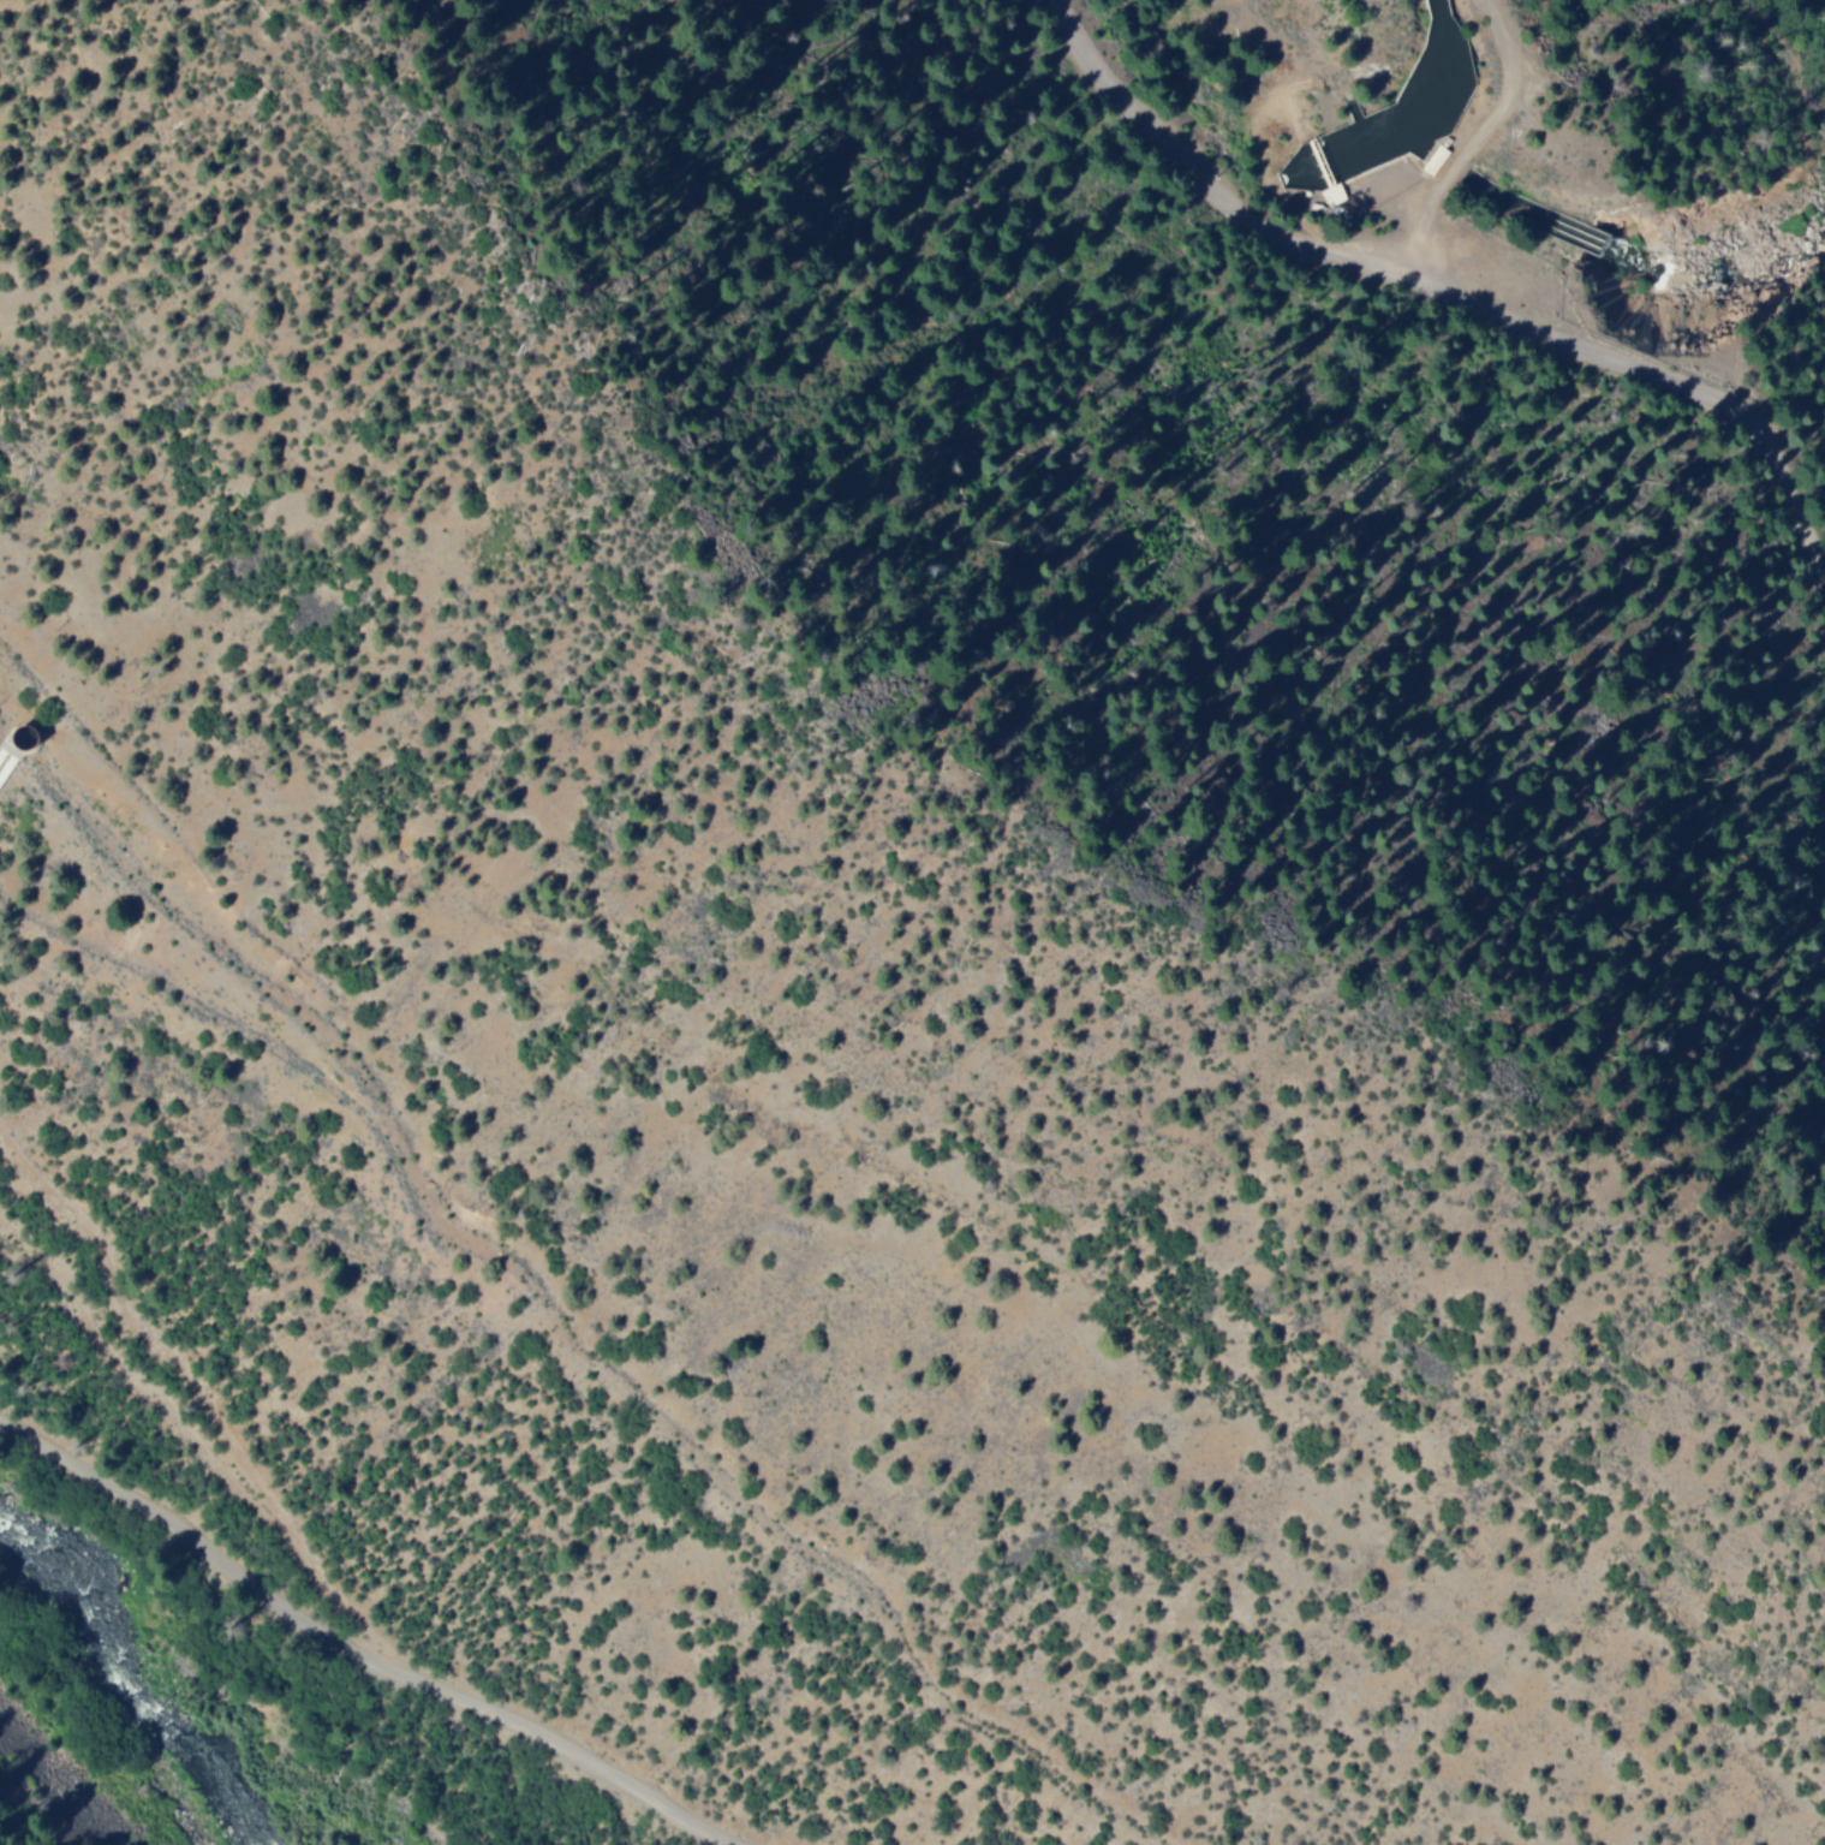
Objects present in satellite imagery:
road: (1424, 197)
road: (1367, 239)
road: (1444, 291)
road: (360, 1651)
river: (135, 1682)

